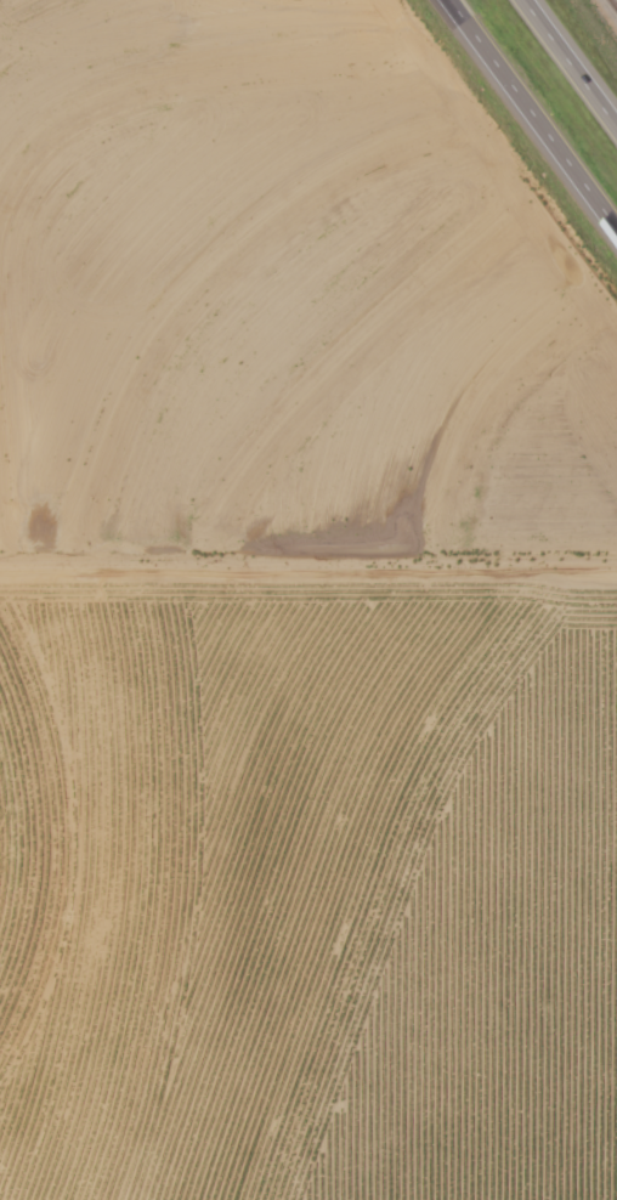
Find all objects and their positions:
road: (577, 55)
road: (538, 104)
road: (307, 570)

